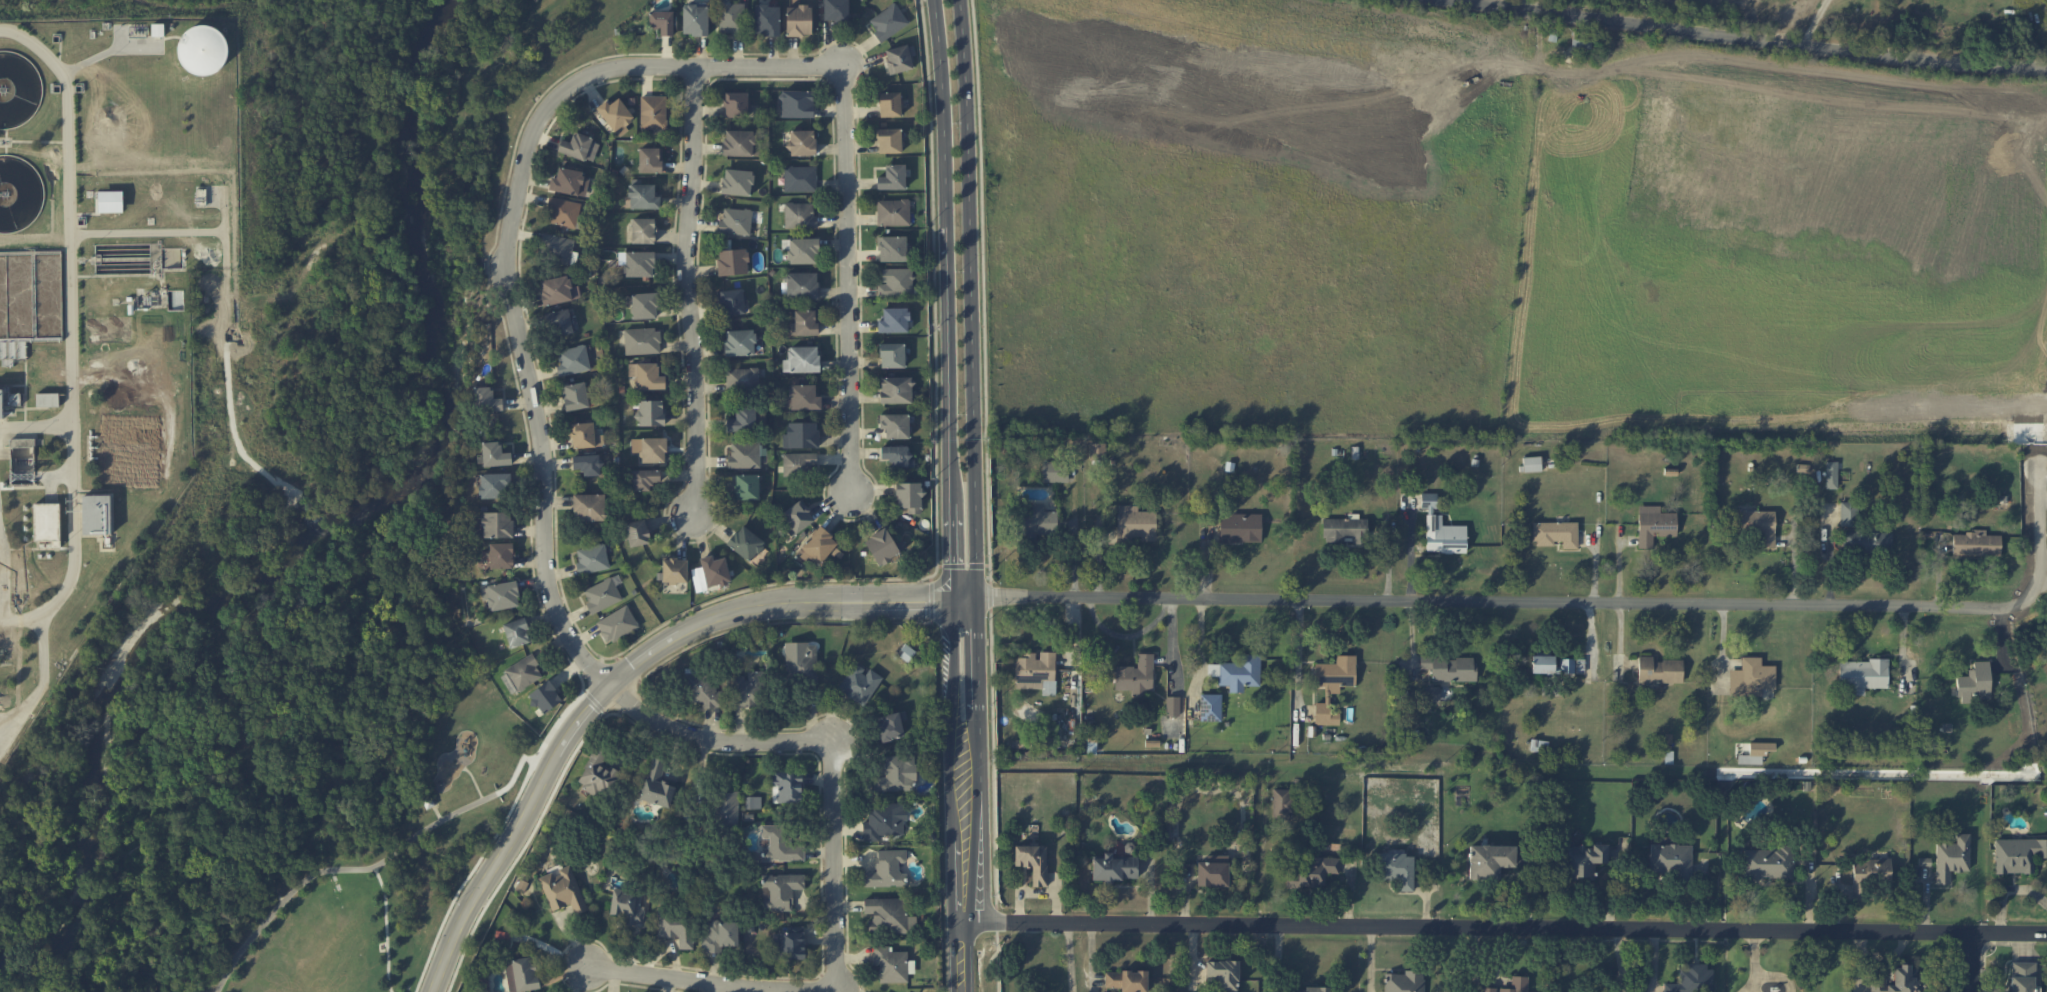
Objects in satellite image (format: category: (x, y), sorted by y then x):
building: (836, 10)
building: (731, 18)
building: (695, 19)
building: (766, 19)
building: (799, 20)
building: (662, 22)
building: (888, 22)
road: (1745, 38)
building: (203, 50)
building: (899, 58)
building: (797, 103)
building: (735, 104)
building: (890, 104)
building: (653, 112)
building: (616, 116)
building: (889, 140)
building: (802, 142)
building: (738, 143)
building: (580, 147)
building: (650, 159)
building: (892, 177)
building: (800, 178)
building: (570, 182)
building: (737, 182)
building: (643, 196)
building: (111, 201)
building: (563, 212)
building: (893, 212)
building: (799, 215)
building: (735, 221)
crop: (1497, 227)
building: (642, 230)
road: (148, 232)
building: (557, 248)
building: (892, 248)
building: (803, 251)
building: (733, 262)
building: (639, 263)
building: (896, 283)
building: (802, 285)
road: (688, 288)
building: (556, 290)
building: (731, 302)
building: (645, 305)
wastewater plant: (100, 308)
building: (894, 320)
building: (559, 322)
building: (804, 323)
road: (72, 331)
building: (642, 341)
building: (740, 342)
building: (892, 355)
building: (802, 359)
building: (572, 360)
building: (647, 375)
building: (742, 379)
building: (896, 390)
building: (575, 396)
building: (802, 397)
building: (48, 399)
building: (486, 399)
building: (2, 403)
road: (535, 403)
building: (651, 412)
building: (743, 419)
road: (36, 425)
building: (895, 425)
building: (585, 435)
building: (801, 435)
building: (650, 448)
building: (1097, 451)
building: (495, 454)
building: (744, 455)
building: (897, 455)
building: (798, 463)
building: (588, 464)
building: (1531, 464)
building: (1054, 471)
building: (1831, 474)
building: (645, 479)
building: (495, 485)
building: (746, 486)
road: (958, 495)
building: (909, 496)
building: (589, 507)
building: (97, 514)
building: (1848, 514)
building: (796, 517)
building: (1039, 521)
building: (47, 523)
building: (1135, 523)
building: (498, 524)
building: (1654, 525)
building: (1240, 527)
building: (1344, 530)
building: (1441, 530)
building: (637, 532)
building: (1555, 534)
building: (745, 543)
building: (1867, 543)
building: (1975, 544)
building: (817, 546)
building: (883, 546)
building: (501, 555)
building: (592, 559)
building: (674, 570)
building: (715, 571)
road: (4, 576)
building: (501, 595)
building: (602, 595)
road: (1563, 602)
road: (772, 604)
building: (617, 624)
building: (517, 632)
road: (1299, 651)
building: (2046, 652)
building: (802, 663)
building: (1552, 665)
building: (1451, 669)
building: (1659, 670)
building: (1036, 671)
building: (524, 672)
building: (1237, 673)
building: (1862, 673)
building: (1336, 674)
building: (1136, 675)
road: (43, 678)
building: (508, 683)
building: (860, 684)
building: (1973, 684)
building: (750, 689)
building: (702, 690)
building: (1431, 694)
building: (545, 697)
building: (1172, 706)
building: (1210, 707)
building: (1325, 715)
building: (890, 726)
building: (1538, 745)
building: (897, 774)
building: (598, 775)
road: (473, 781)
building: (657, 784)
building: (787, 787)
building: (753, 802)
building: (1282, 804)
building: (726, 810)
building: (884, 821)
road: (514, 836)
road: (406, 840)
building: (780, 844)
building: (2017, 854)
building: (1951, 858)
building: (1489, 861)
building: (1585, 861)
building: (1671, 861)
building: (1033, 862)
building: (1767, 863)
building: (1115, 868)
park: (385, 869)
building: (886, 869)
building: (1397, 869)
building: (1213, 871)
building: (1310, 871)
road: (469, 873)
building: (1869, 874)
building: (563, 890)
building: (781, 891)
building: (627, 906)
building: (888, 916)
road: (385, 928)
building: (676, 928)
road: (1506, 928)
building: (719, 935)
building: (789, 943)
road: (1070, 958)
road: (1974, 963)
building: (890, 964)
building: (523, 974)
building: (1223, 974)
building: (2022, 976)
building: (1692, 979)
building: (1127, 980)
building: (1404, 981)
building: (1519, 981)
building: (1899, 981)
building: (484, 984)
building: (1308, 989)

